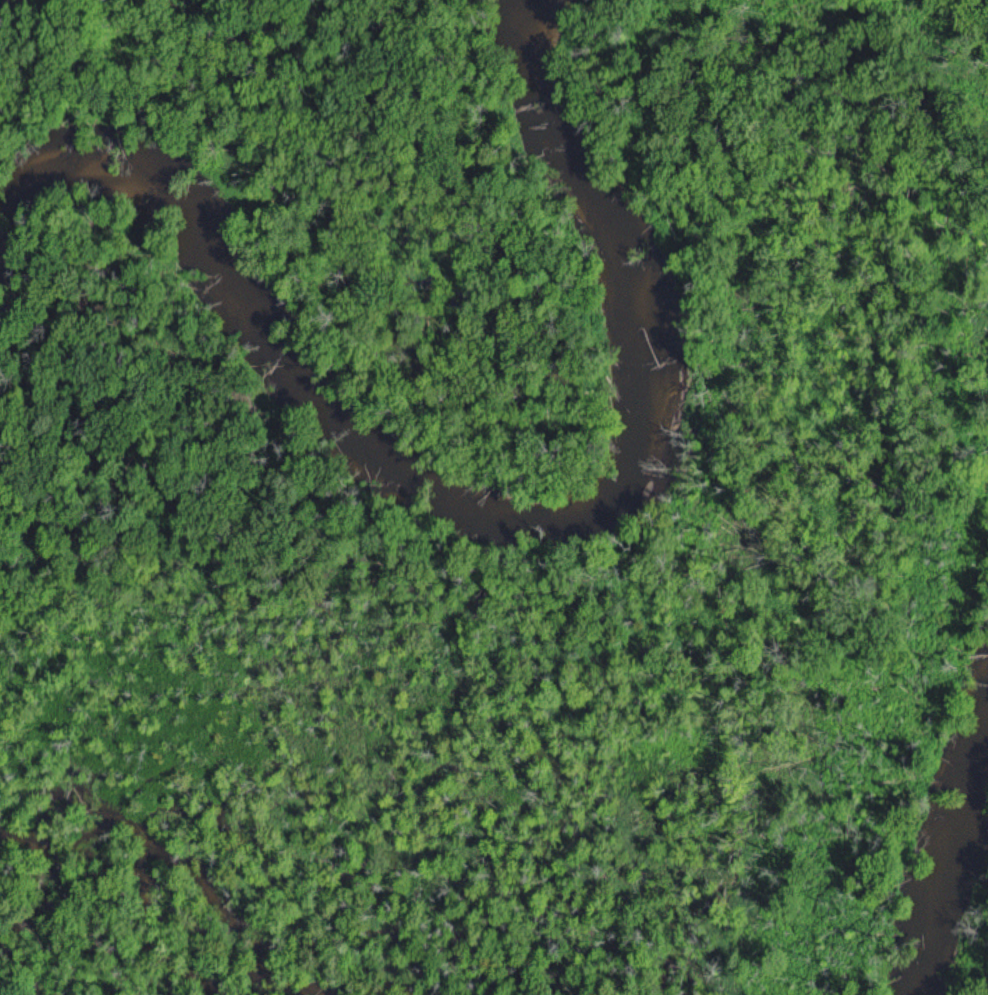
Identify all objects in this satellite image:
river: (471, 513)
river: (940, 869)

